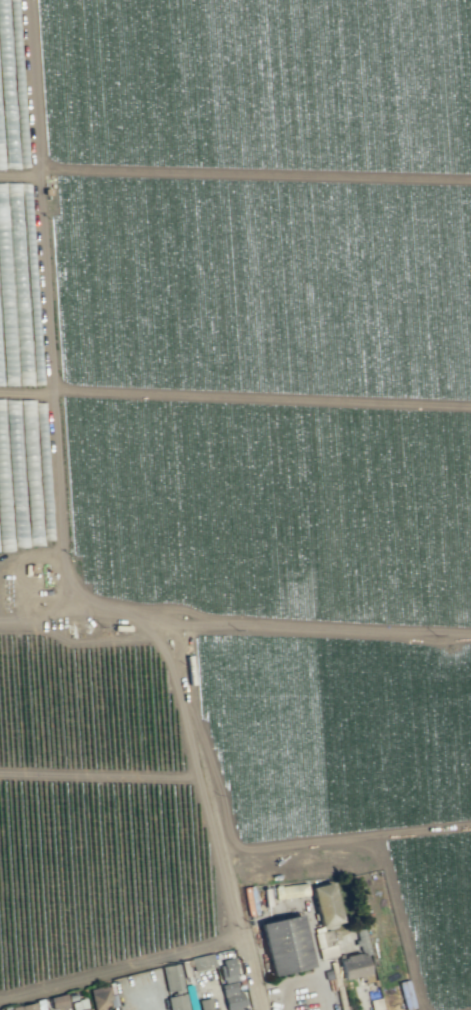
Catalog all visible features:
crop: (233, 480)
road: (55, 553)
road: (131, 612)
road: (46, 615)
road: (217, 816)
building: (290, 890)
building: (325, 905)
building: (285, 944)
building: (325, 944)
building: (202, 961)
building: (354, 966)
building: (171, 976)
building: (230, 985)
building: (99, 997)
building: (58, 1001)
building: (177, 1002)
building: (207, 1004)
building: (375, 1004)
building: (78, 1005)
building: (24, 1006)

